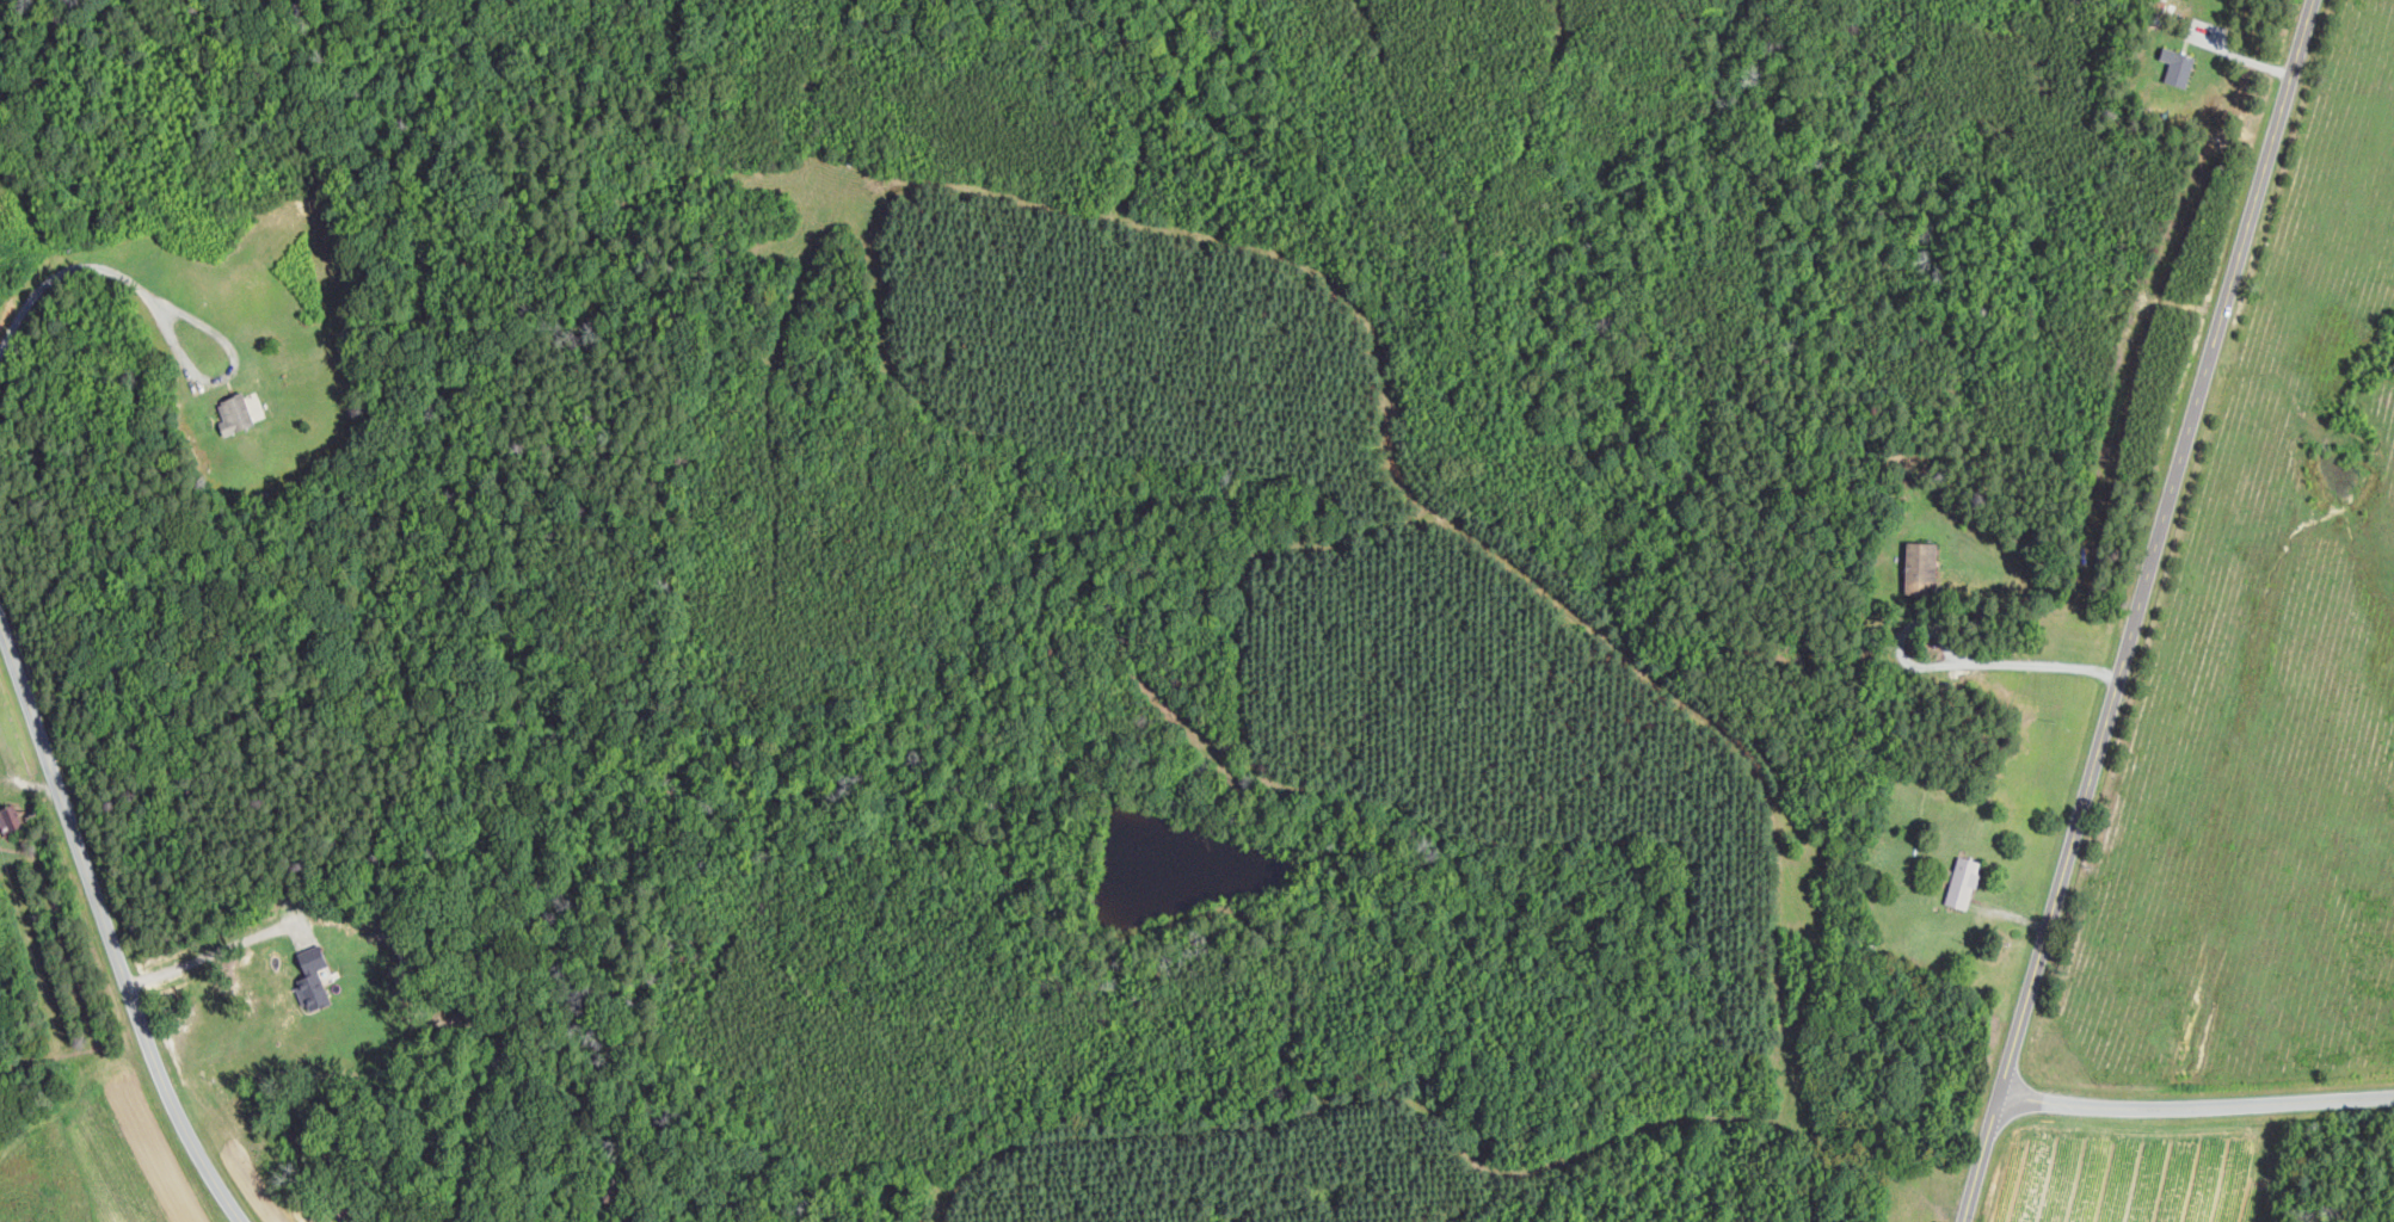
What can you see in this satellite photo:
building: (2180, 66)
road: (66, 276)
road: (216, 378)
building: (238, 412)
building: (1924, 566)
road: (2137, 610)
road: (1959, 661)
building: (10, 820)
building: (1965, 881)
road: (107, 927)
road: (211, 953)
building: (316, 977)
road: (2196, 1106)

